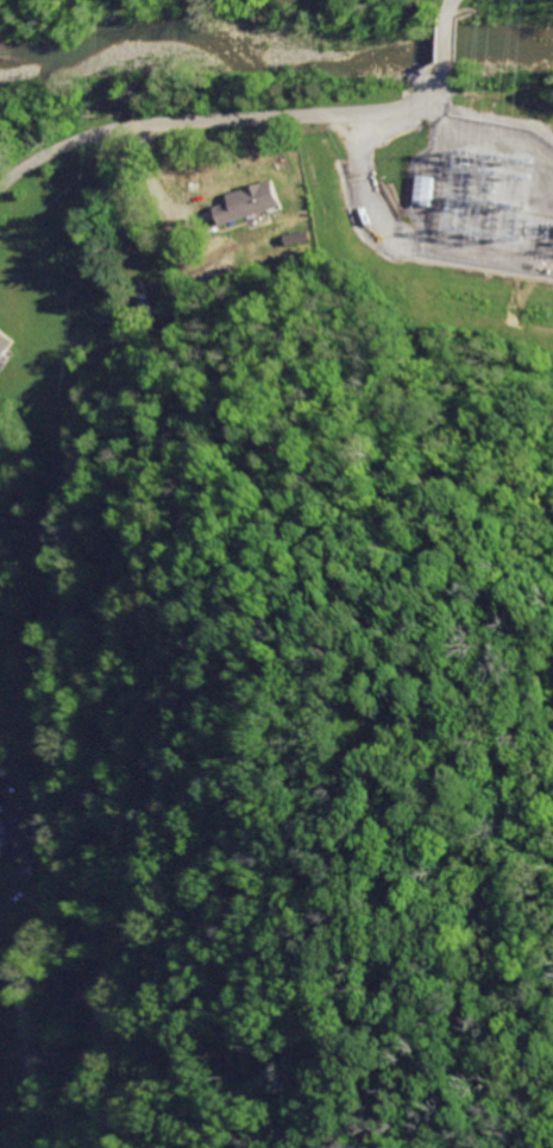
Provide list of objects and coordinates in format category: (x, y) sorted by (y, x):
road: (450, 8)
road: (446, 46)
road: (221, 122)
road: (375, 191)
power substation: (485, 193)
building: (235, 214)
building: (297, 238)
building: (208, 277)
building: (159, 291)
building: (5, 342)
building: (13, 839)
building: (64, 964)
building: (95, 1021)
road: (29, 1059)

